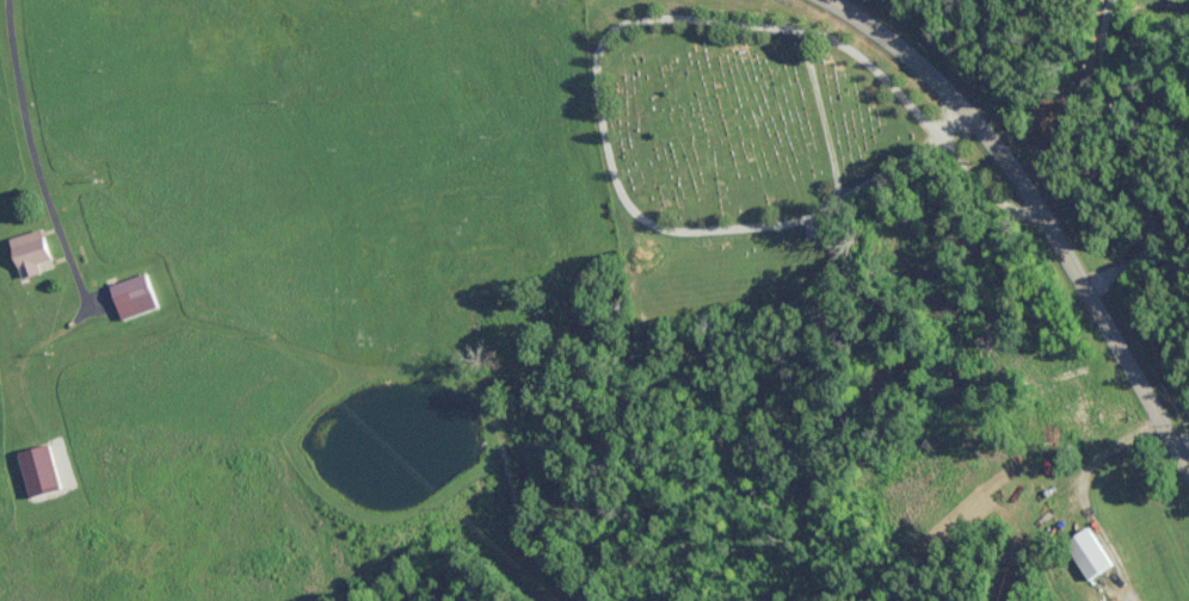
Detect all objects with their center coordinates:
park: (740, 145)
road: (2, 204)
road: (1039, 209)
building: (23, 252)
building: (125, 291)
road: (1181, 440)
building: (19, 482)
building: (1082, 552)

